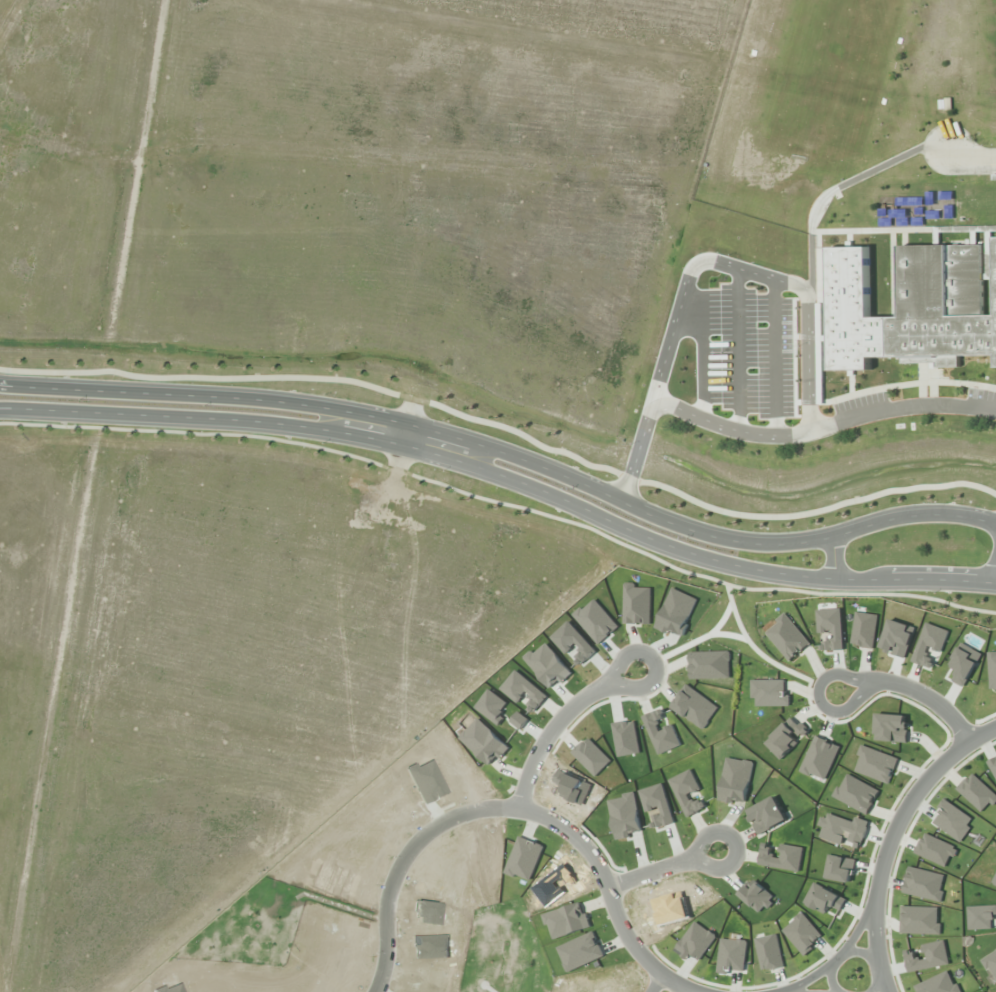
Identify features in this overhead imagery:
road: (506, 426)
road: (402, 435)
road: (505, 451)
road: (503, 479)
road: (501, 502)
road: (833, 557)
road: (995, 580)
road: (653, 661)
road: (927, 696)
road: (818, 699)
road: (549, 736)
road: (518, 807)
road: (893, 839)
road: (737, 843)
road: (650, 873)
road: (863, 952)
road: (841, 954)
road: (832, 976)
road: (655, 983)
road: (879, 983)
road: (683, 990)

